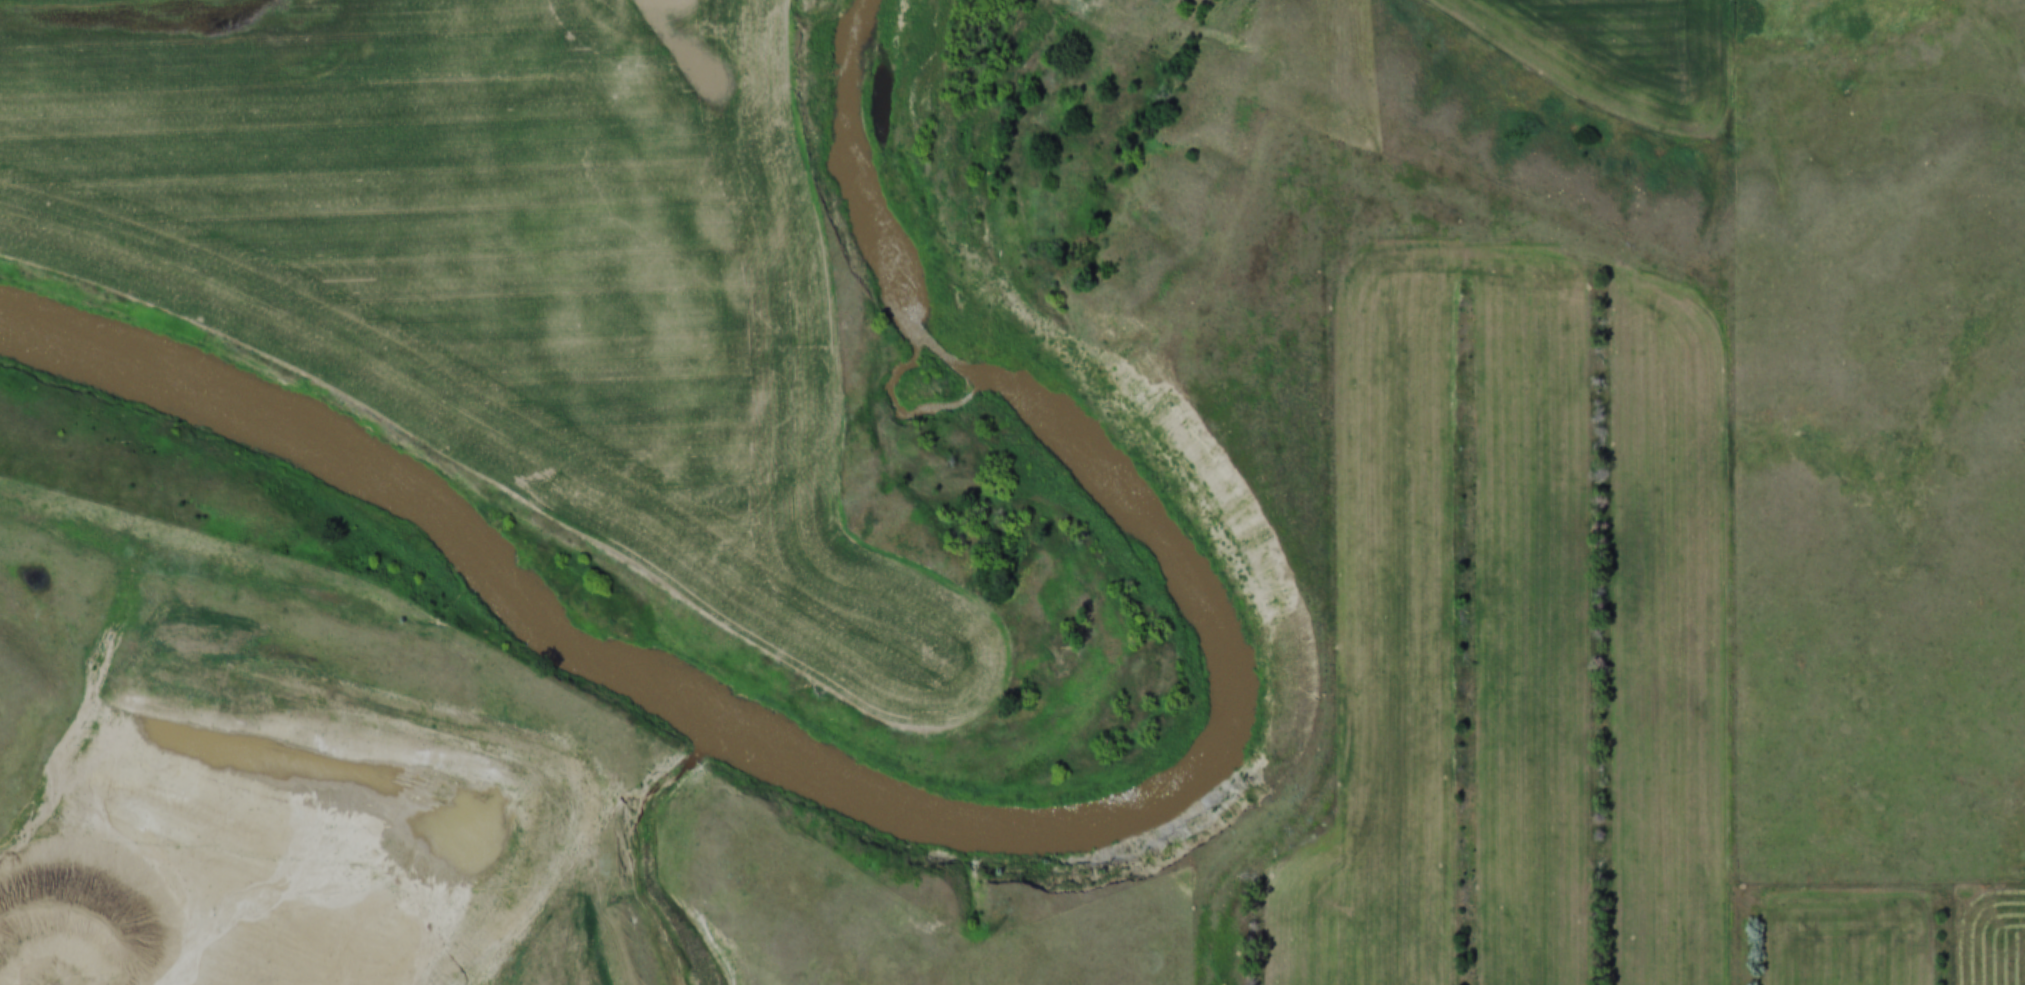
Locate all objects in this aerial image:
river: (999, 815)
quarry: (290, 820)

